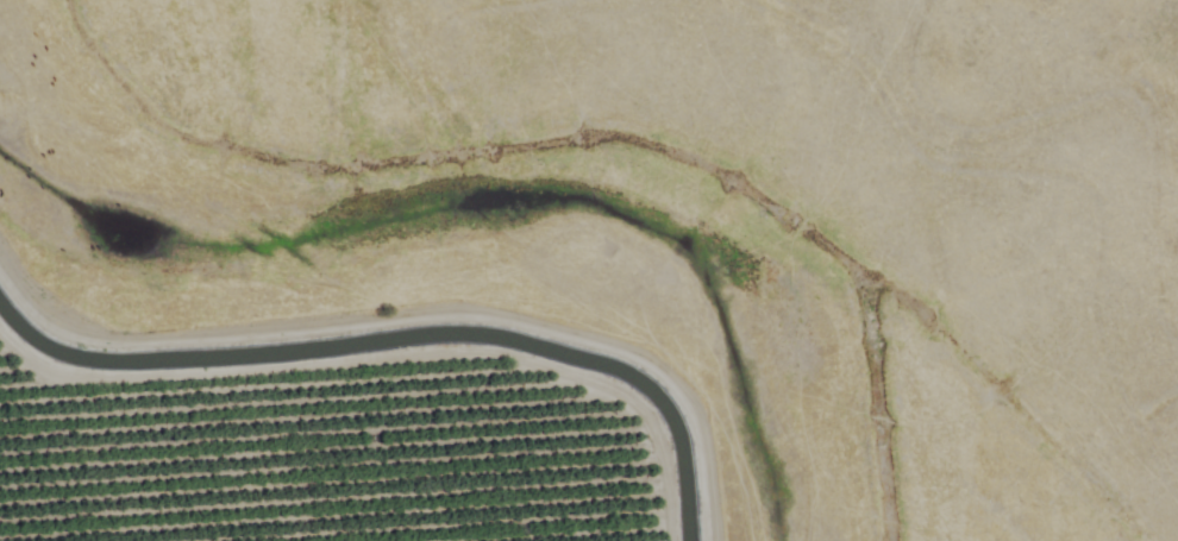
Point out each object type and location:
crop: (318, 441)

